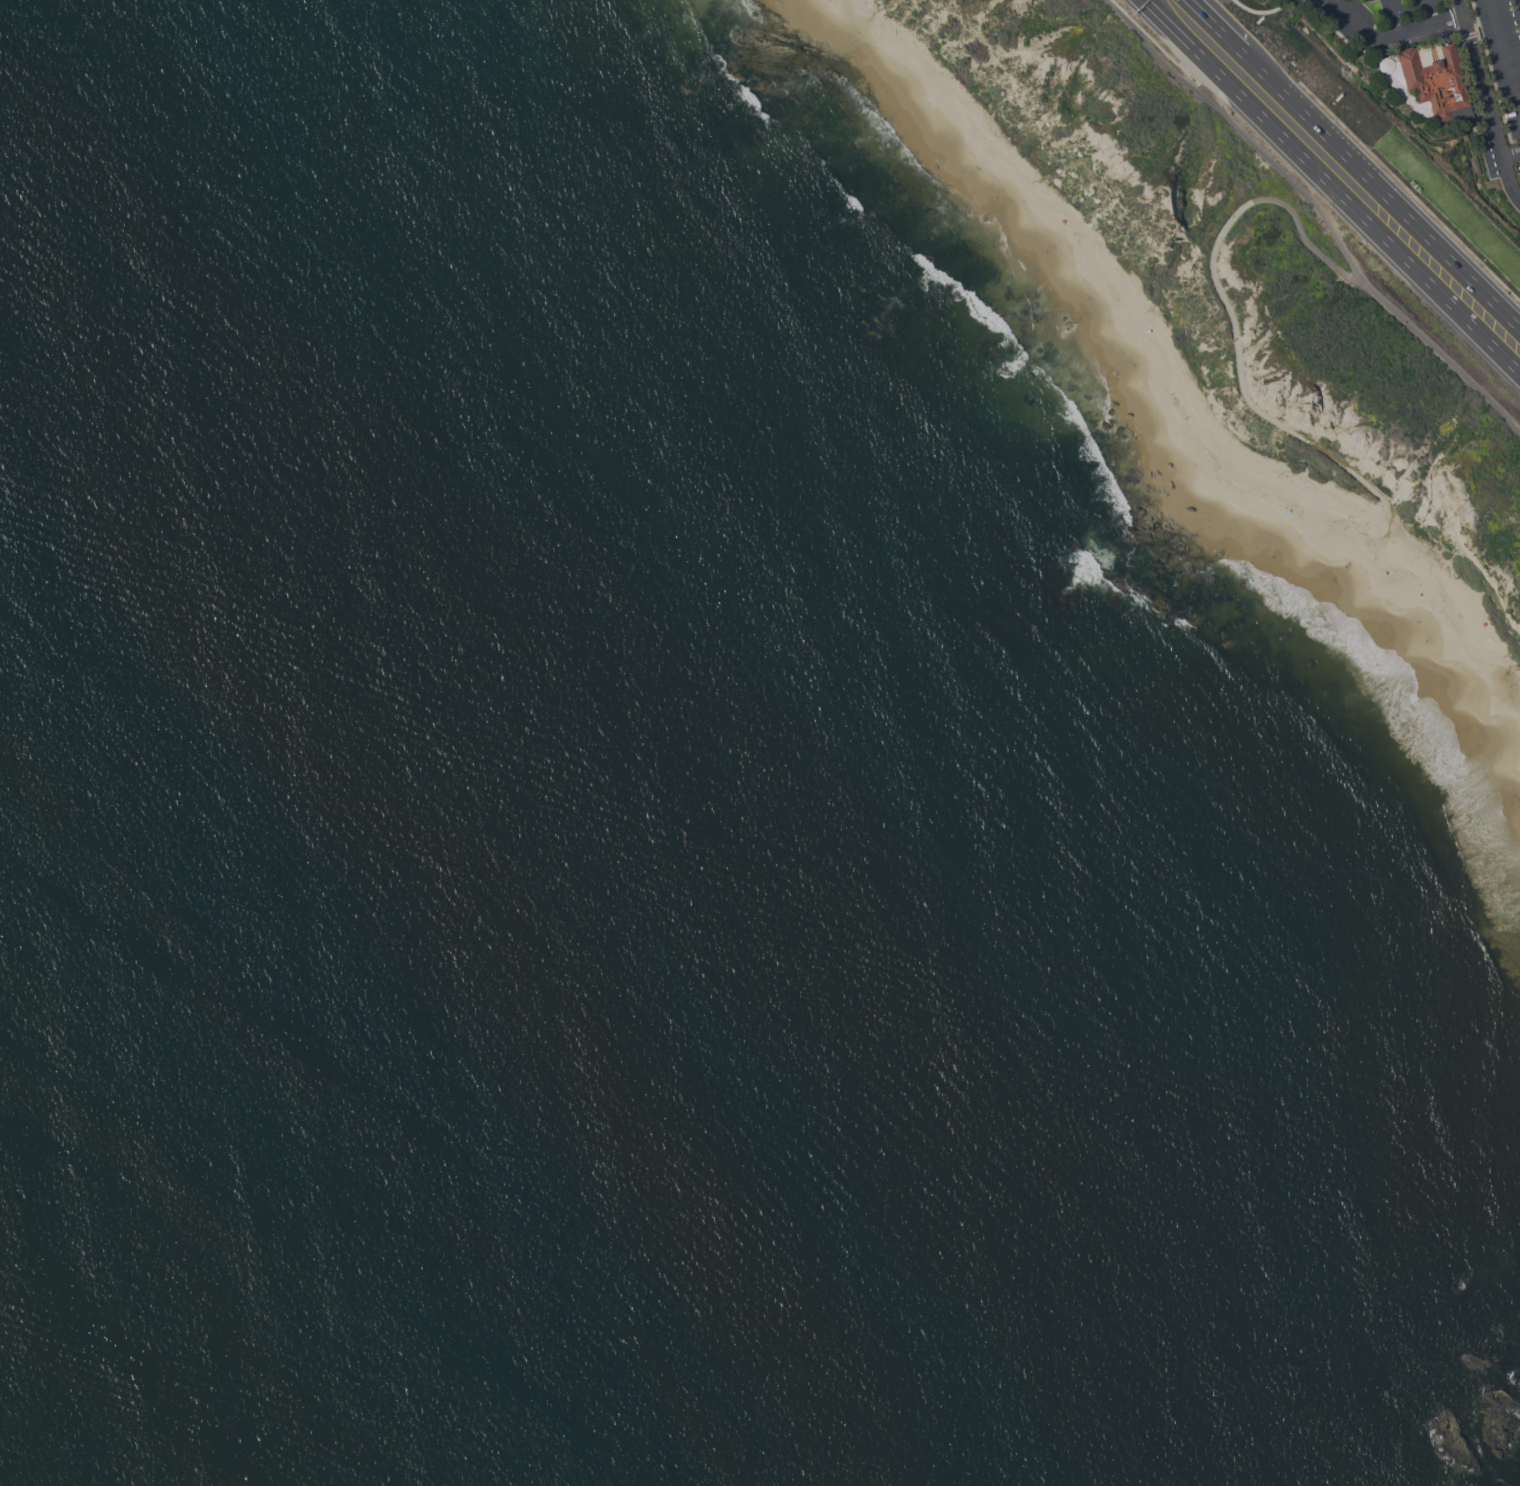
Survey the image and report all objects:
road: (1425, 11)
road: (1389, 17)
parking lot: (1385, 23)
road: (1214, 26)
road: (1336, 32)
road: (1387, 35)
road: (1504, 56)
building: (1433, 81)
parking lot: (1495, 83)
road: (1483, 99)
road: (1511, 155)
road: (1331, 187)
road: (1380, 191)
road: (1319, 212)
road: (1305, 239)
road: (1238, 380)

